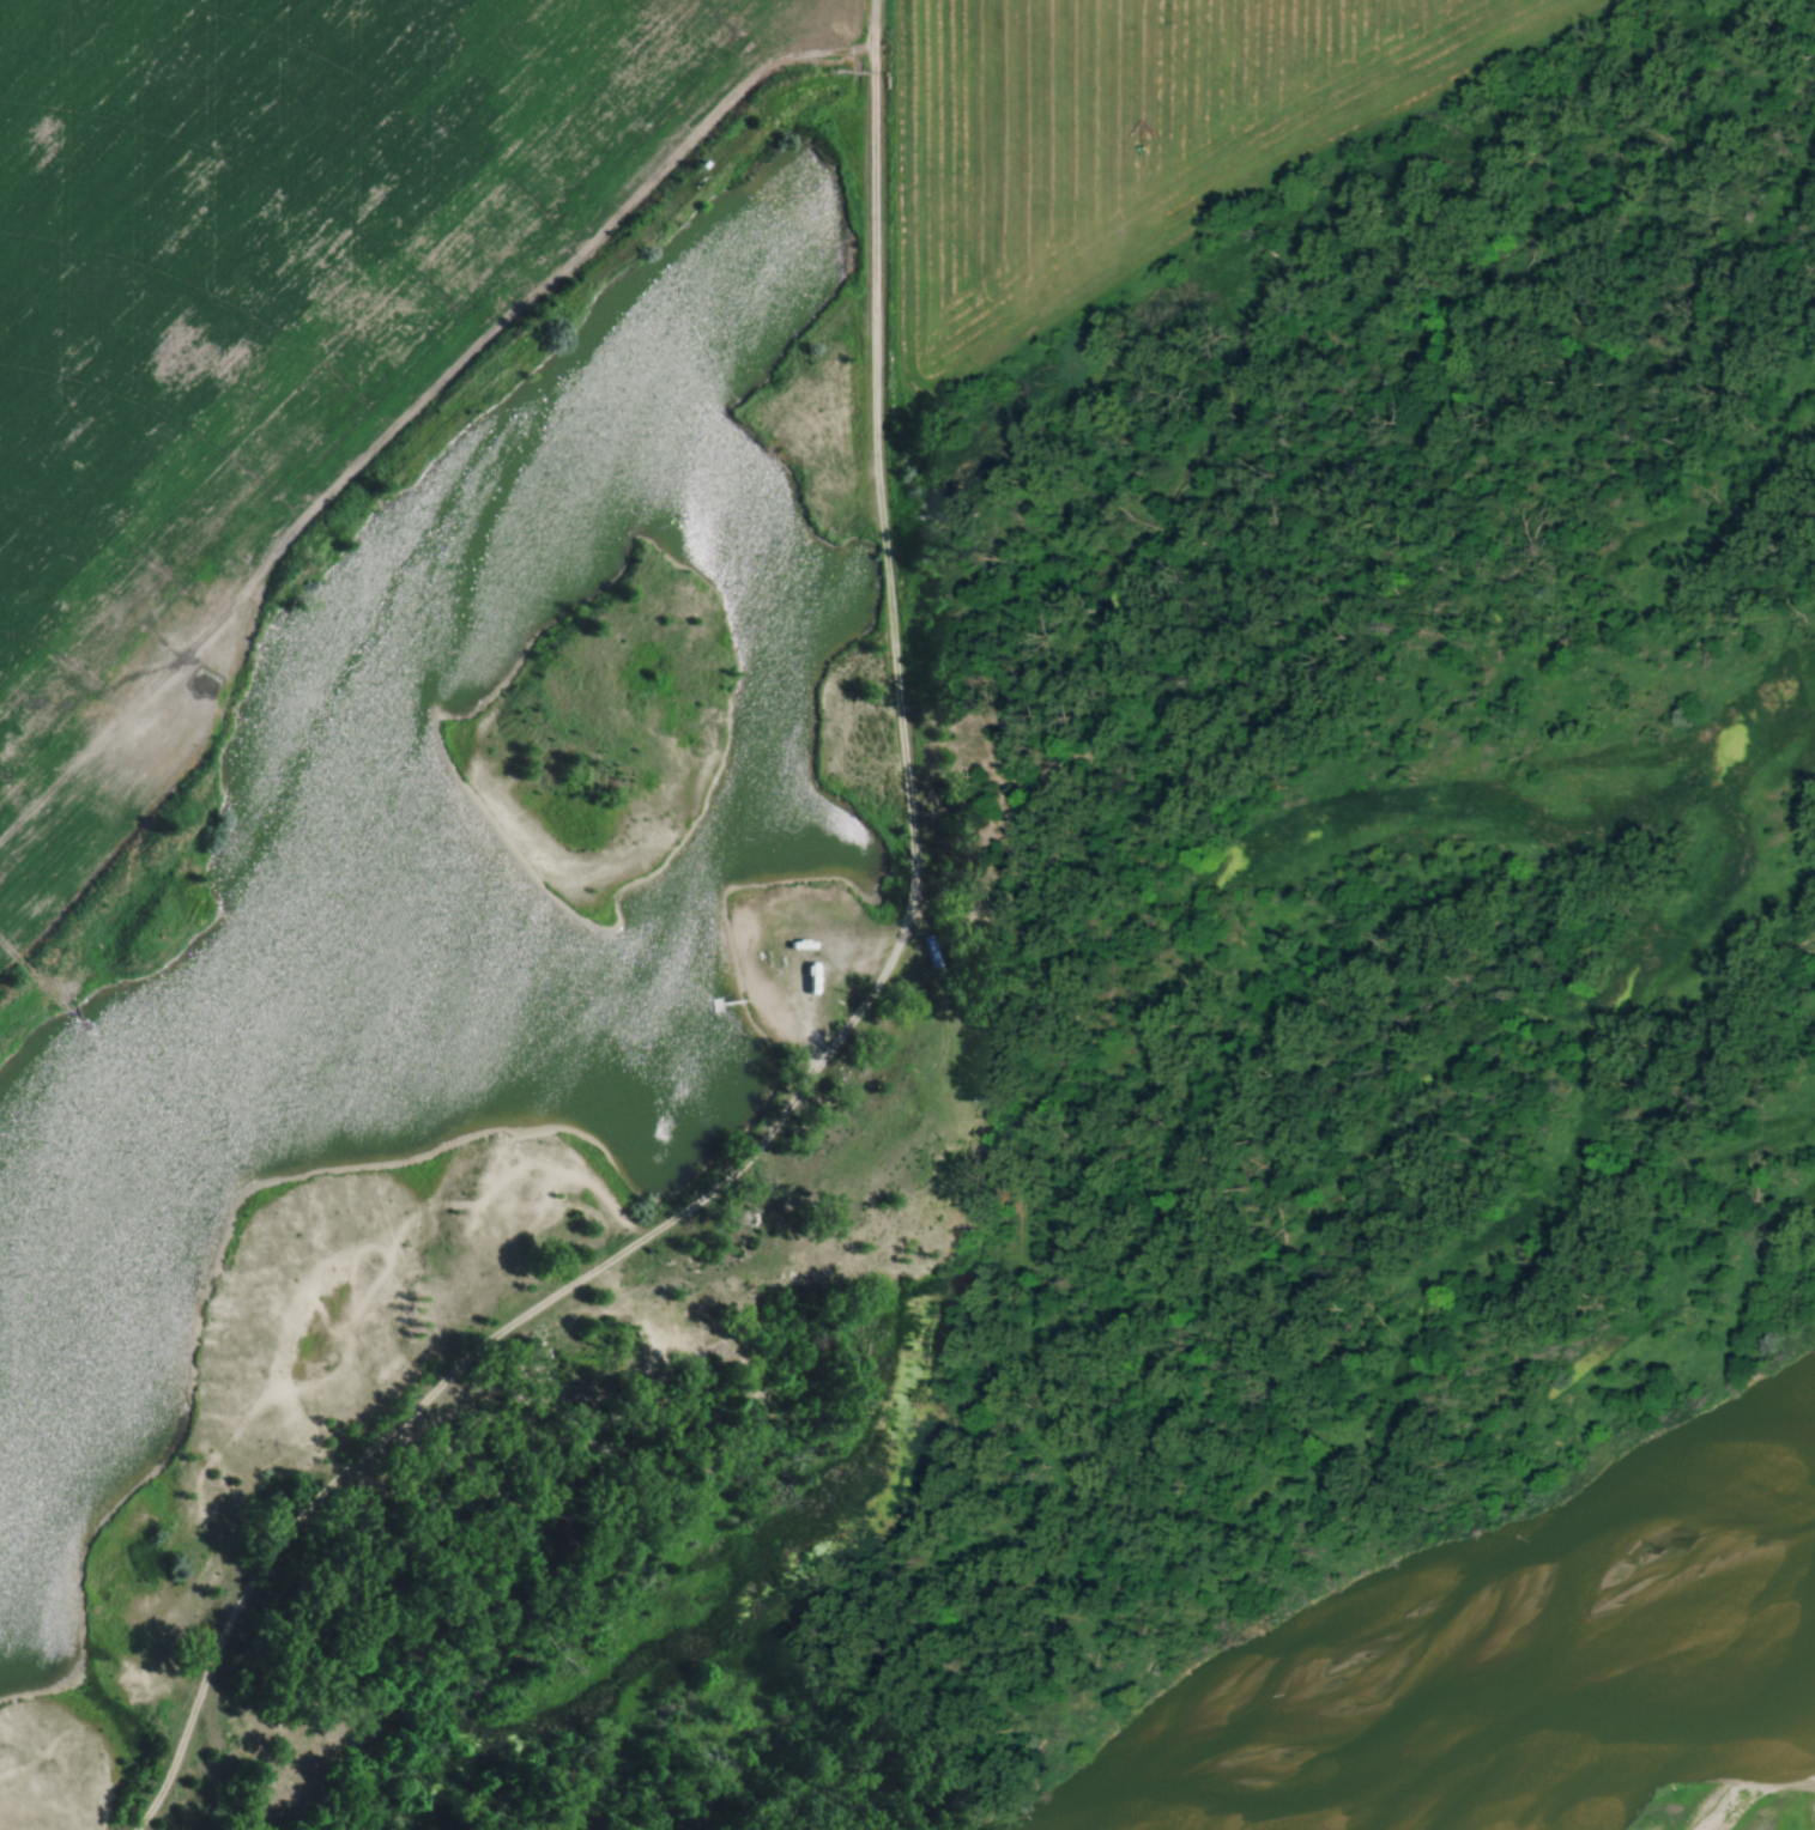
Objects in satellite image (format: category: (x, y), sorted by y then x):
road: (871, 25)
road: (873, 449)
road: (515, 1323)

